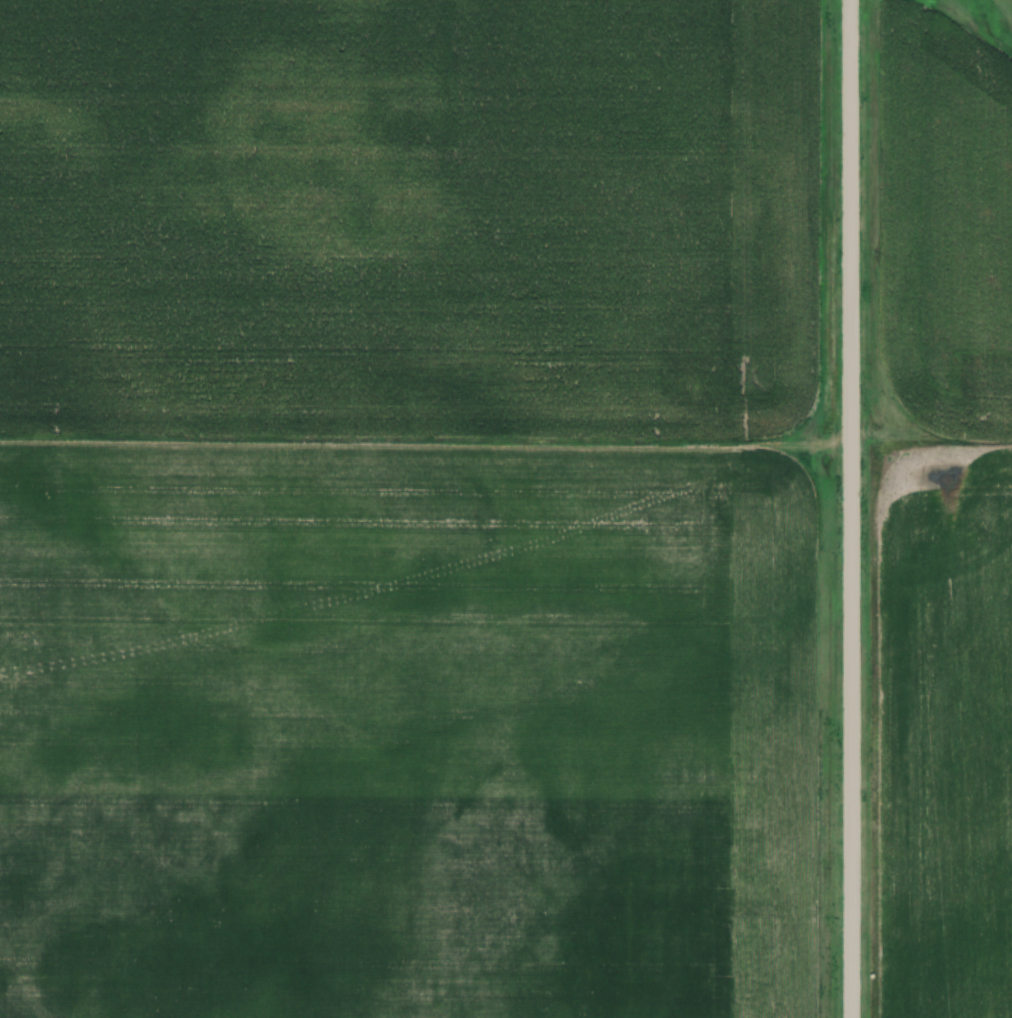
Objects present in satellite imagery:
road: (852, 509)

